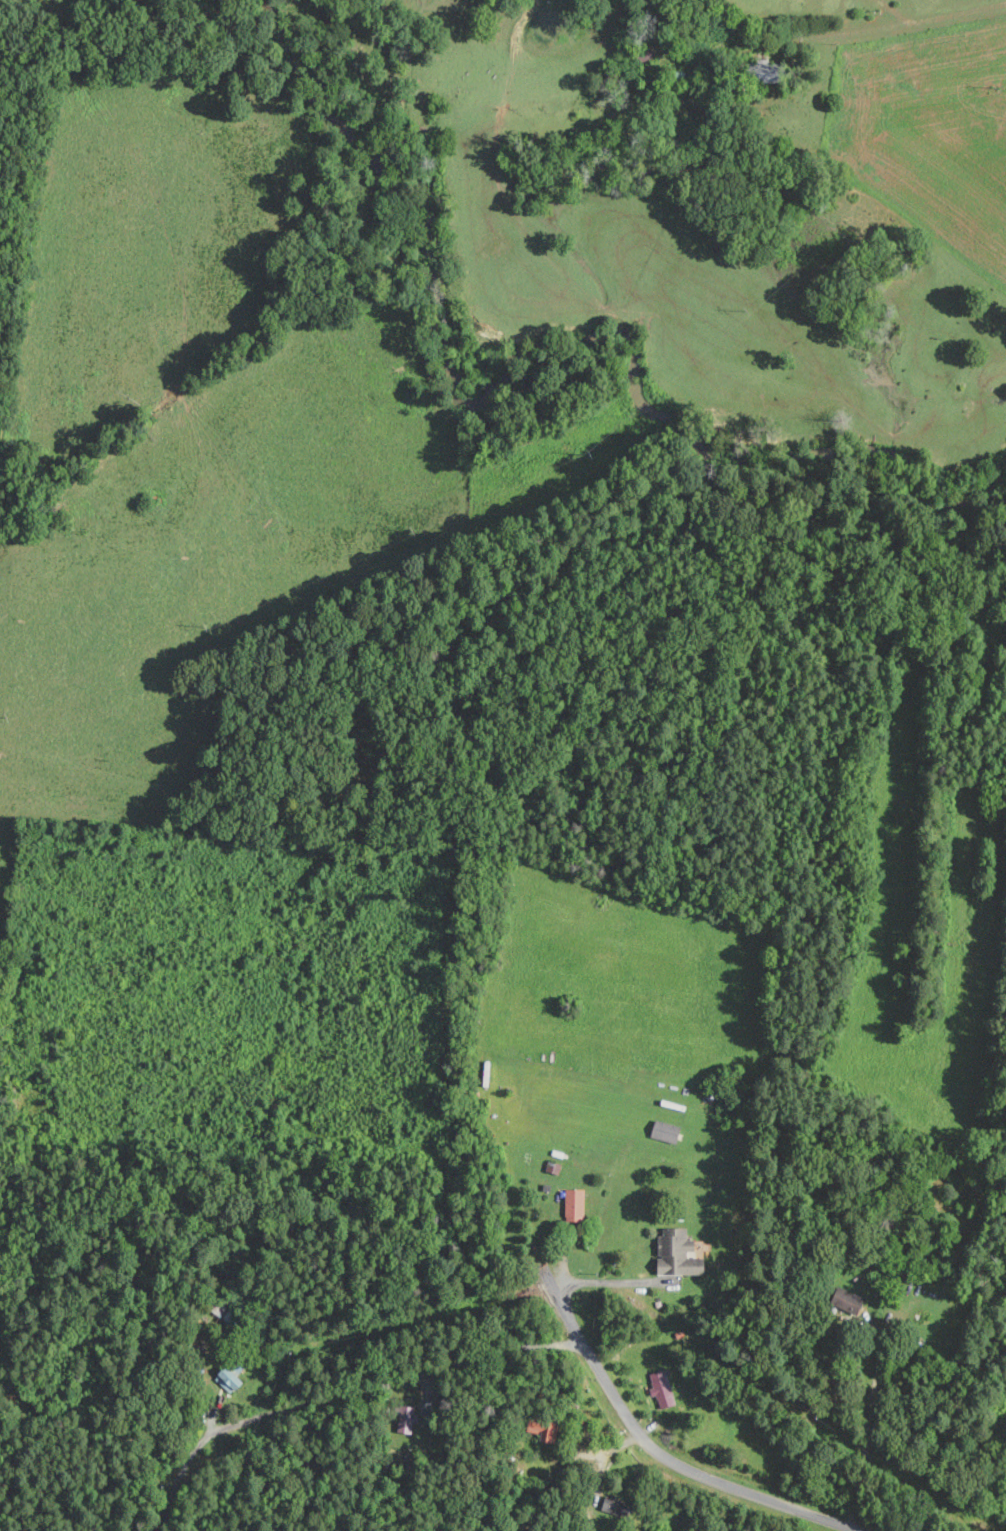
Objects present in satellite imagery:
road: (904, 23)
river: (513, 371)
building: (661, 1132)
building: (671, 1253)
road: (610, 1281)
building: (843, 1302)
building: (225, 1376)
building: (659, 1388)
road: (343, 1394)
road: (868, 1429)
road: (659, 1459)

